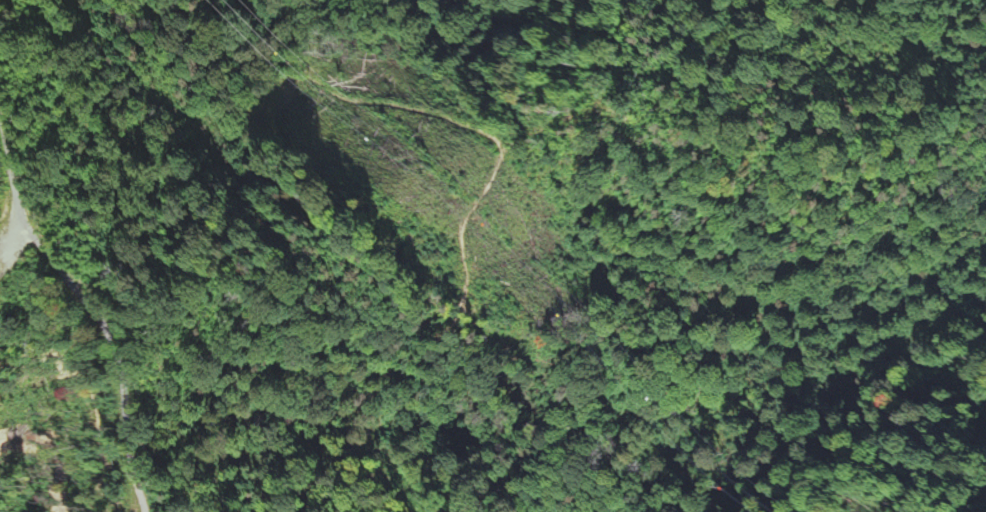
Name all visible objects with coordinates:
road: (12, 153)

